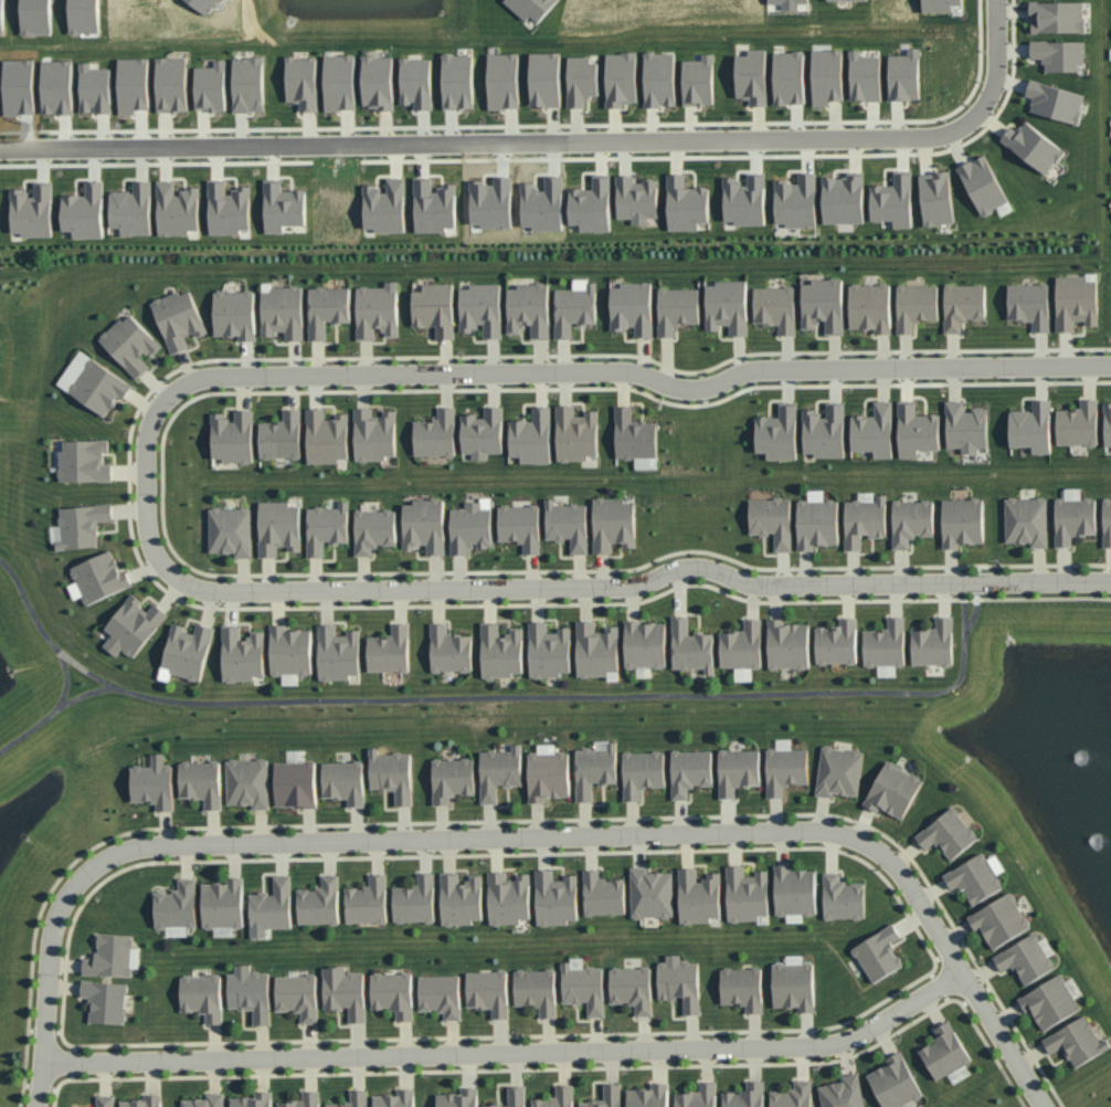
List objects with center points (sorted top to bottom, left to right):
building: (846, 0)
building: (790, 3)
building: (204, 4)
building: (941, 6)
building: (532, 8)
building: (38, 17)
building: (85, 17)
building: (2, 18)
building: (1059, 18)
building: (1060, 55)
road: (994, 60)
building: (828, 76)
building: (906, 76)
building: (866, 77)
building: (753, 78)
building: (791, 78)
building: (623, 80)
building: (662, 80)
building: (546, 81)
building: (458, 82)
building: (504, 82)
building: (583, 82)
building: (700, 82)
building: (303, 83)
building: (340, 83)
building: (379, 83)
building: (417, 83)
building: (172, 85)
building: (248, 85)
building: (134, 86)
building: (59, 87)
building: (211, 88)
building: (95, 89)
building: (1057, 103)
road: (489, 143)
building: (1035, 147)
building: (984, 186)
building: (938, 199)
building: (637, 200)
building: (844, 200)
building: (745, 202)
building: (797, 202)
building: (893, 203)
building: (687, 205)
building: (593, 207)
building: (284, 208)
building: (385, 208)
building: (435, 208)
building: (178, 210)
building: (229, 210)
building: (133, 211)
building: (33, 212)
building: (85, 213)
building: (1078, 301)
building: (824, 304)
building: (1030, 304)
building: (917, 305)
building: (964, 305)
building: (576, 306)
building: (729, 306)
building: (871, 306)
building: (436, 307)
building: (634, 307)
building: (776, 307)
building: (328, 308)
building: (483, 308)
building: (530, 308)
building: (678, 308)
building: (378, 309)
building: (284, 312)
building: (236, 313)
building: (180, 318)
building: (131, 344)
building: (74, 370)
road: (558, 372)
building: (100, 387)
building: (1080, 423)
building: (1108, 425)
building: (966, 426)
building: (1034, 426)
building: (875, 430)
building: (826, 431)
building: (918, 431)
building: (484, 432)
building: (576, 433)
building: (779, 433)
building: (375, 434)
building: (436, 434)
building: (234, 436)
building: (283, 436)
building: (327, 436)
building: (533, 436)
building: (636, 439)
building: (85, 460)
building: (1076, 516)
building: (866, 518)
building: (773, 520)
building: (1028, 520)
building: (912, 521)
building: (964, 521)
building: (818, 523)
building: (1108, 523)
building: (569, 524)
building: (614, 524)
building: (83, 525)
building: (425, 525)
building: (473, 526)
building: (521, 526)
building: (279, 527)
building: (328, 527)
building: (375, 529)
building: (232, 530)
building: (100, 577)
road: (628, 588)
building: (134, 626)
building: (839, 642)
building: (646, 644)
building: (790, 644)
building: (887, 644)
building: (934, 644)
building: (692, 646)
building: (743, 646)
building: (390, 650)
building: (451, 650)
building: (597, 650)
building: (189, 651)
building: (292, 651)
building: (550, 651)
building: (502, 652)
building: (338, 653)
building: (243, 655)
building: (596, 768)
building: (740, 770)
building: (786, 770)
building: (500, 771)
building: (691, 771)
building: (840, 771)
building: (644, 772)
building: (392, 774)
building: (549, 776)
building: (453, 779)
building: (297, 780)
building: (345, 781)
building: (154, 782)
building: (202, 782)
building: (248, 782)
building: (895, 790)
building: (949, 833)
road: (369, 839)
building: (976, 878)
building: (796, 890)
building: (604, 894)
building: (652, 894)
building: (748, 895)
building: (700, 897)
building: (509, 898)
building: (557, 898)
building: (844, 898)
building: (462, 899)
building: (415, 900)
building: (368, 902)
building: (320, 903)
building: (224, 904)
building: (178, 905)
building: (273, 906)
building: (1002, 920)
building: (880, 953)
building: (680, 982)
building: (795, 985)
building: (743, 988)
building: (633, 989)
road: (971, 989)
building: (538, 990)
building: (251, 992)
building: (346, 992)
building: (489, 992)
building: (394, 993)
building: (298, 995)
building: (442, 995)
building: (202, 997)
building: (106, 1001)
building: (1051, 1002)
building: (1078, 1042)
building: (946, 1052)
road: (510, 1054)
building: (897, 1082)
building: (844, 1093)
building: (794, 1095)
building: (650, 1096)
building: (747, 1096)
building: (514, 1097)
building: (607, 1097)
building: (461, 1098)
building: (559, 1098)
building: (355, 1099)
building: (396, 1099)
building: (106, 1100)
building: (254, 1100)
building: (304, 1100)
building: (145, 1101)
building: (207, 1101)

